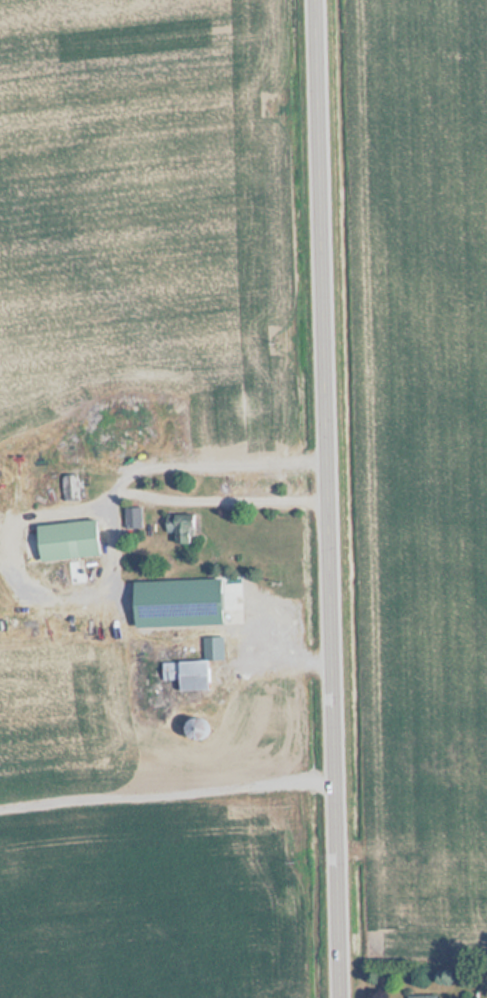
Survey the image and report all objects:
building: (69, 488)
road: (328, 499)
building: (133, 519)
building: (181, 532)
building: (66, 541)
building: (176, 603)
building: (212, 647)
building: (186, 674)
building: (422, 996)

